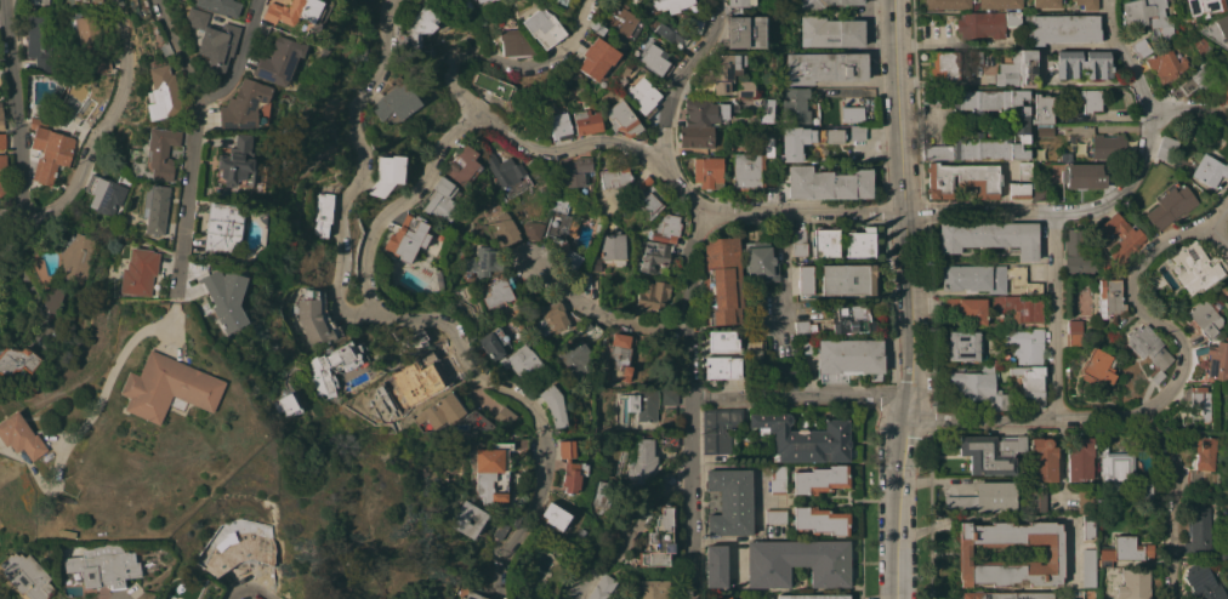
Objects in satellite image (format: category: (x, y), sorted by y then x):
building: (96, 0)
building: (487, 0)
building: (635, 0)
building: (39, 1)
building: (477, 1)
building: (553, 2)
building: (826, 2)
building: (948, 4)
building: (999, 4)
building: (1045, 4)
building: (1086, 4)
building: (669, 5)
building: (737, 5)
building: (220, 6)
building: (1204, 6)
building: (291, 11)
building: (1147, 16)
building: (621, 19)
building: (693, 24)
building: (985, 24)
building: (420, 25)
building: (1222, 25)
building: (542, 27)
building: (597, 28)
building: (1063, 28)
building: (670, 30)
building: (745, 32)
building: (831, 32)
building: (212, 34)
building: (40, 42)
building: (91, 42)
building: (491, 42)
building: (513, 44)
building: (1141, 47)
building: (165, 49)
building: (976, 57)
building: (596, 58)
road: (237, 61)
building: (278, 61)
building: (655, 61)
building: (1165, 63)
road: (511, 64)
building: (1081, 64)
building: (943, 65)
building: (824, 68)
building: (622, 69)
building: (1017, 69)
building: (723, 70)
road: (1046, 72)
building: (1193, 80)
building: (491, 84)
building: (744, 87)
building: (1224, 90)
building: (27, 91)
building: (161, 92)
building: (641, 96)
building: (937, 97)
building: (1091, 99)
building: (394, 102)
road: (672, 103)
building: (795, 104)
road: (17, 105)
building: (245, 105)
building: (995, 105)
building: (1041, 108)
road: (1189, 108)
building: (766, 109)
building: (704, 112)
building: (851, 114)
building: (1, 118)
building: (621, 119)
building: (586, 121)
road: (923, 124)
building: (558, 126)
building: (1044, 131)
road: (1148, 131)
building: (857, 132)
building: (695, 137)
road: (104, 138)
building: (805, 139)
road: (192, 144)
building: (987, 147)
building: (1108, 147)
building: (1167, 148)
road: (567, 149)
building: (2, 150)
building: (50, 152)
building: (160, 152)
building: (937, 152)
building: (235, 164)
building: (462, 165)
building: (749, 165)
building: (1209, 170)
building: (574, 171)
building: (707, 171)
building: (1024, 171)
building: (1037, 172)
building: (387, 175)
building: (508, 175)
building: (1082, 176)
building: (614, 178)
building: (962, 179)
building: (2, 183)
building: (828, 183)
building: (440, 187)
building: (1019, 190)
building: (1039, 192)
building: (104, 194)
building: (648, 196)
road: (403, 205)
building: (1170, 206)
building: (155, 207)
road: (875, 211)
building: (320, 213)
road: (1216, 215)
building: (559, 221)
building: (221, 227)
building: (504, 228)
building: (666, 228)
building: (533, 230)
building: (989, 238)
building: (407, 239)
building: (1130, 240)
building: (825, 241)
building: (798, 243)
building: (860, 243)
building: (613, 247)
building: (1076, 253)
building: (654, 256)
building: (76, 257)
building: (482, 262)
building: (570, 263)
building: (595, 263)
building: (760, 264)
building: (1194, 267)
building: (140, 272)
building: (974, 278)
building: (805, 279)
building: (847, 279)
building: (1022, 279)
building: (586, 280)
building: (720, 283)
building: (438, 289)
building: (499, 291)
building: (1226, 293)
building: (652, 296)
building: (224, 297)
building: (1108, 297)
building: (51, 299)
road: (905, 299)
building: (1018, 308)
building: (967, 309)
road: (602, 314)
road: (394, 316)
road: (1053, 316)
building: (552, 318)
building: (1205, 318)
building: (315, 319)
building: (851, 319)
building: (1074, 326)
building: (805, 327)
building: (591, 330)
building: (415, 338)
building: (1073, 340)
building: (721, 341)
building: (494, 343)
building: (1025, 344)
building: (963, 346)
building: (1147, 346)
building: (620, 356)
building: (754, 356)
building: (575, 358)
building: (849, 359)
building: (17, 360)
building: (1215, 360)
building: (522, 361)
road: (115, 364)
building: (1096, 366)
building: (320, 367)
building: (722, 367)
building: (1156, 376)
building: (1030, 383)
building: (407, 384)
building: (167, 387)
building: (979, 388)
road: (1170, 392)
building: (669, 397)
road: (802, 398)
road: (694, 403)
building: (289, 404)
building: (553, 404)
building: (1198, 404)
building: (624, 407)
building: (646, 407)
building: (443, 410)
building: (504, 416)
building: (718, 428)
building: (19, 435)
building: (803, 438)
building: (669, 441)
building: (519, 443)
building: (990, 453)
building: (1205, 453)
building: (1079, 458)
building: (639, 460)
building: (1042, 460)
building: (569, 467)
building: (1116, 468)
building: (491, 472)
building: (778, 479)
building: (820, 479)
building: (1147, 490)
building: (601, 494)
building: (985, 498)
road: (1172, 501)
building: (730, 502)
building: (1037, 502)
building: (1086, 502)
building: (775, 515)
building: (556, 518)
building: (467, 519)
building: (820, 520)
building: (1087, 527)
road: (632, 529)
building: (1198, 530)
building: (656, 541)
building: (1127, 549)
building: (1052, 554)
building: (1223, 555)
building: (797, 563)
building: (101, 564)
building: (715, 565)
building: (1087, 567)
building: (25, 576)
building: (1132, 583)
building: (1204, 583)
building: (602, 587)
building: (653, 588)
road: (250, 589)
building: (471, 595)
building: (1006, 595)
building: (722, 597)
building: (813, 597)
road: (121, 598)
building: (737, 598)

